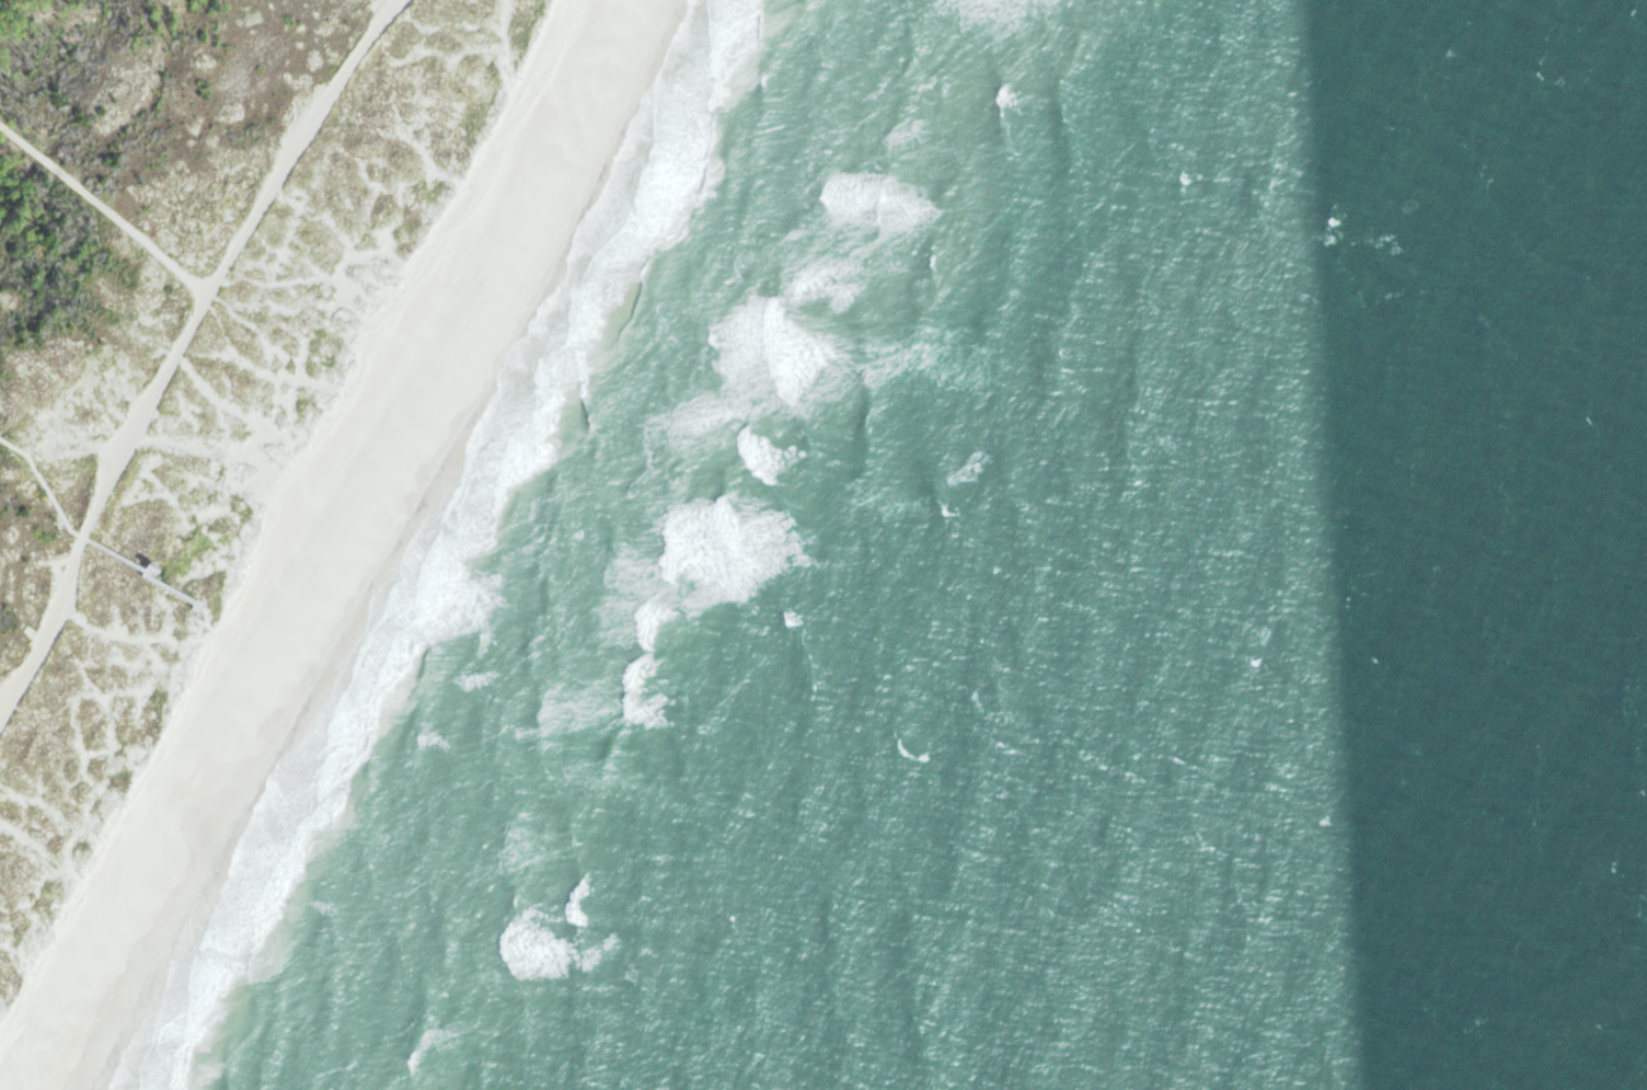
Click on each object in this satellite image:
road: (106, 209)
road: (178, 351)
road: (87, 541)
building: (153, 567)
road: (14, 946)

